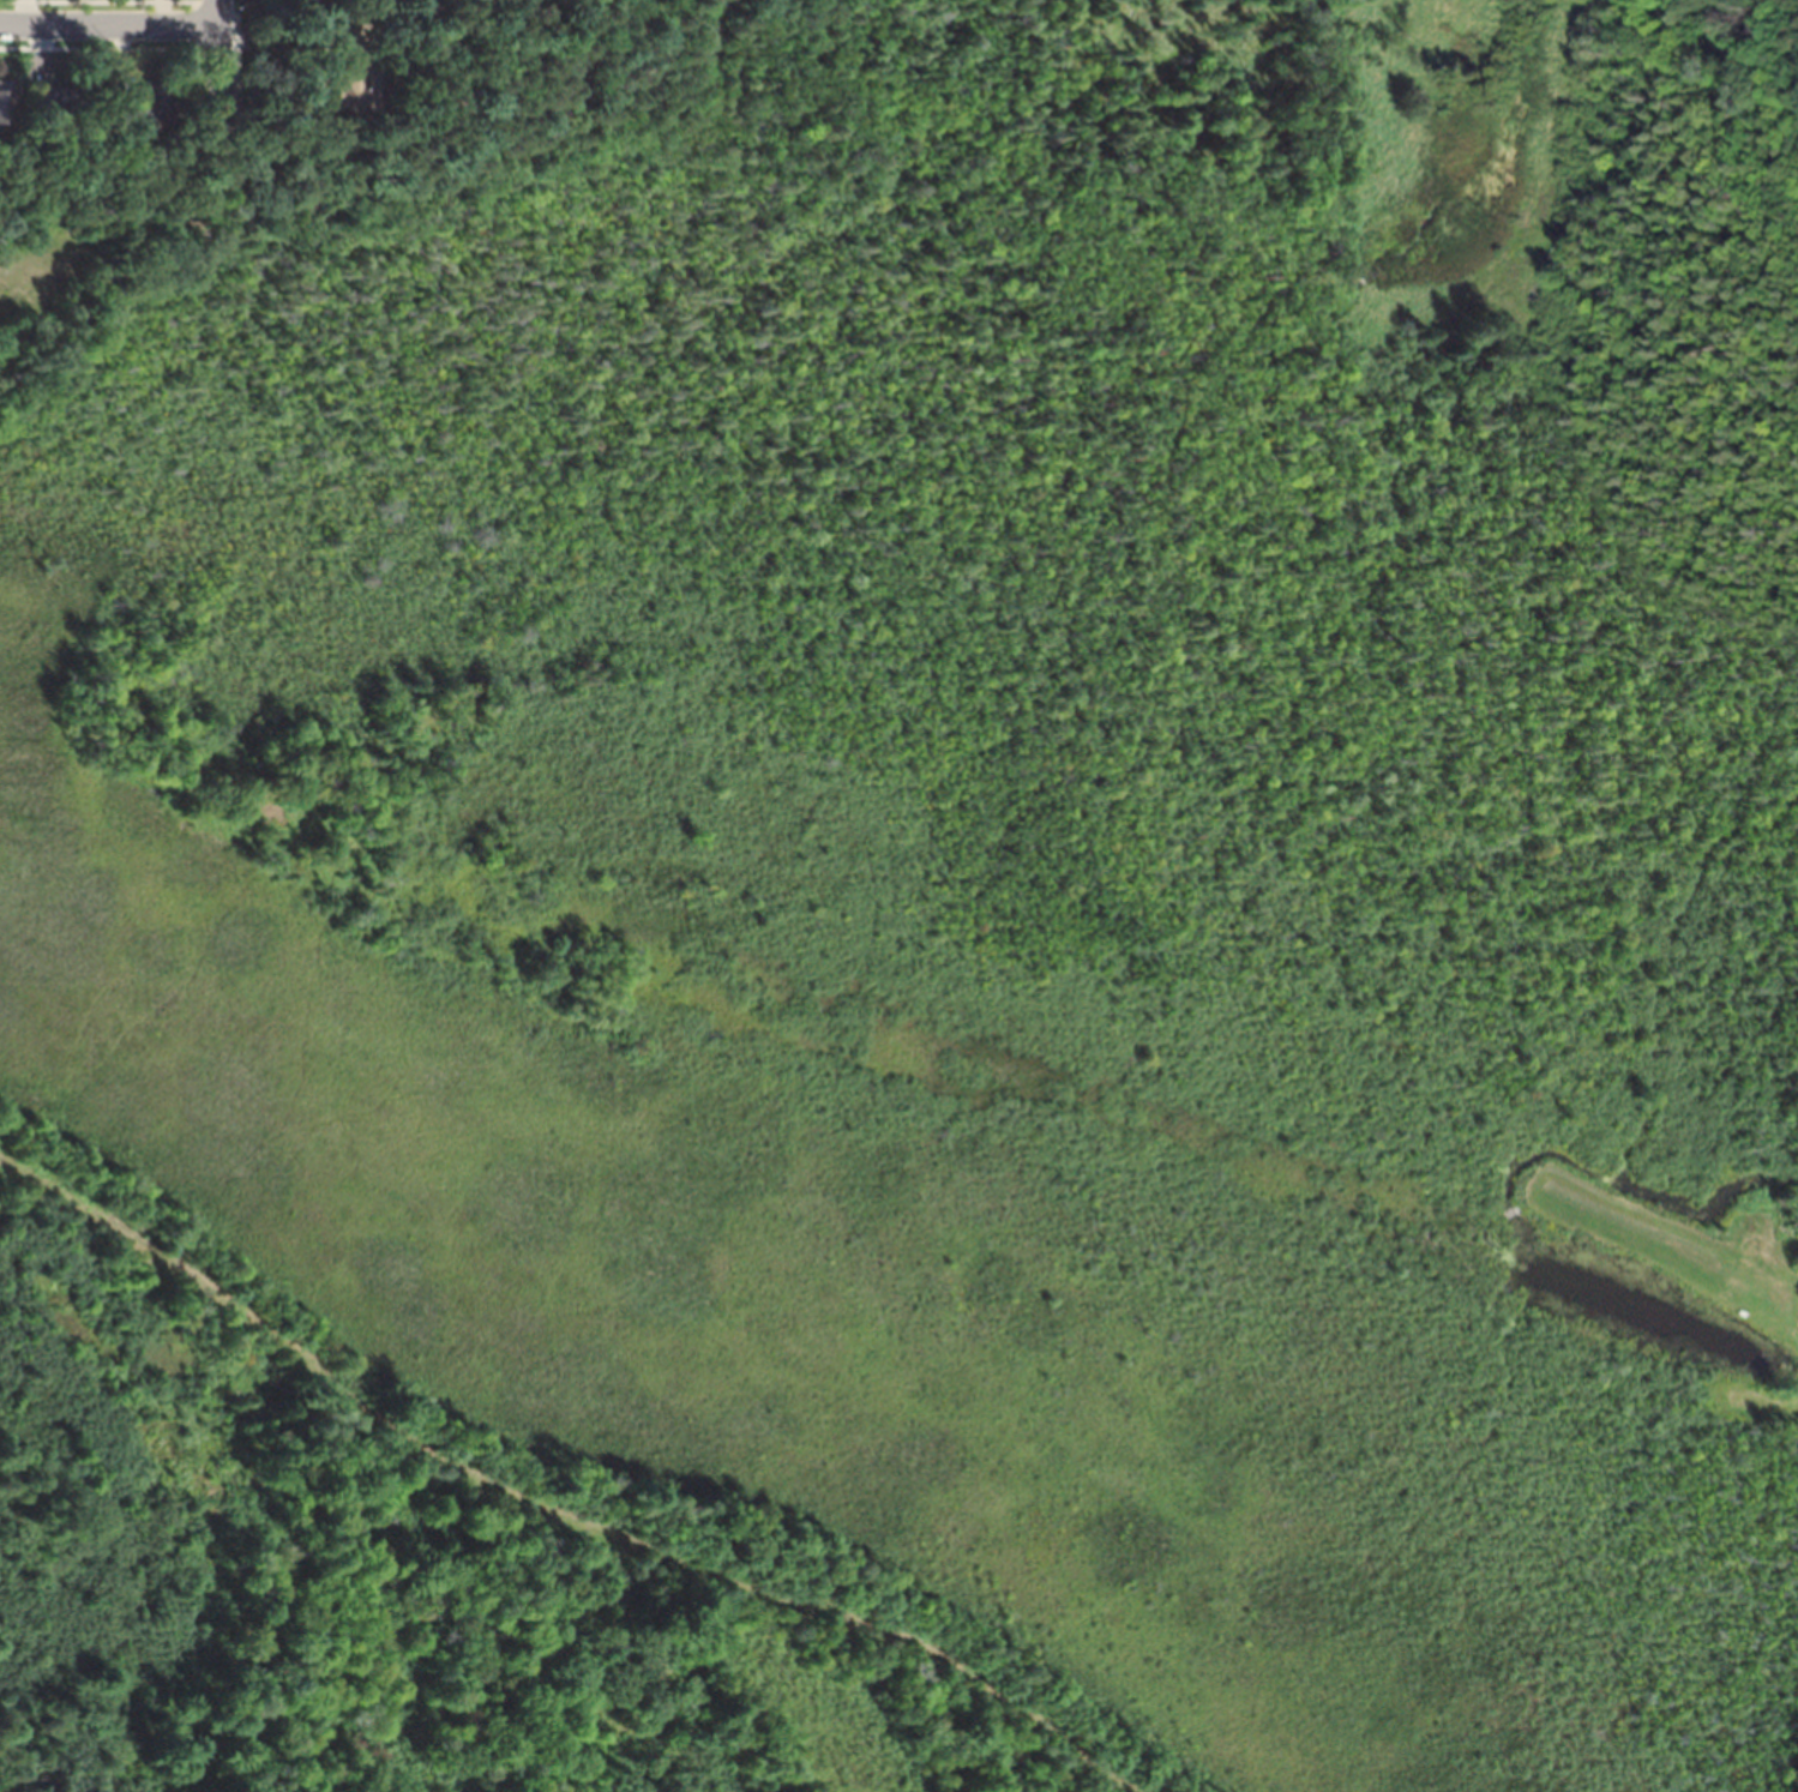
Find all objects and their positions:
road: (109, 25)
road: (220, 44)
building: (347, 88)
building: (2, 104)
building: (139, 109)
building: (1537, 294)

